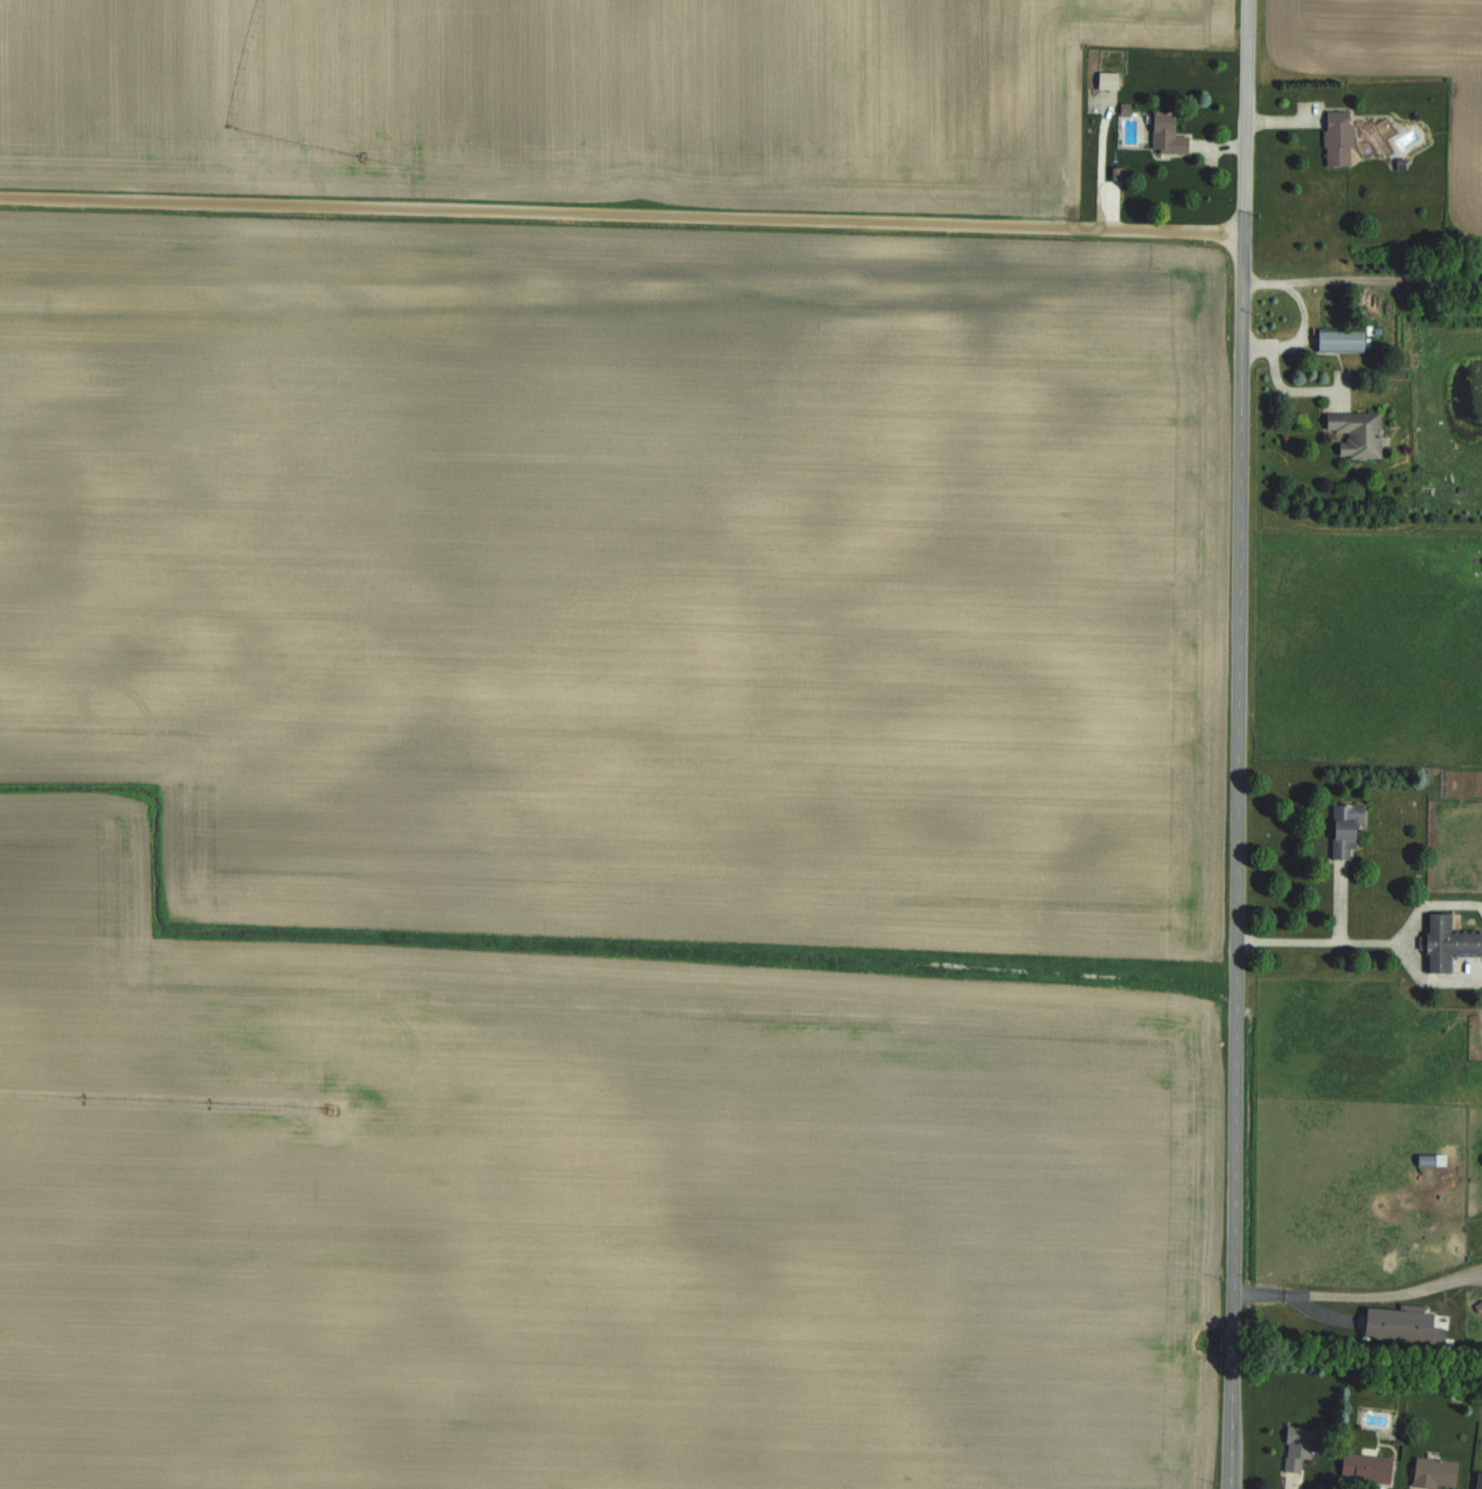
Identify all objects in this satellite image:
building: (1106, 80)
crop: (575, 95)
road: (1244, 116)
building: (1165, 134)
building: (1374, 136)
building: (1337, 138)
road: (620, 215)
building: (1339, 340)
road: (1274, 388)
building: (1356, 432)
building: (1344, 828)
road: (1233, 860)
road: (1321, 940)
building: (1445, 943)
building: (1302, 1448)
building: (1371, 1468)
building: (1439, 1473)
building: (1481, 1484)

